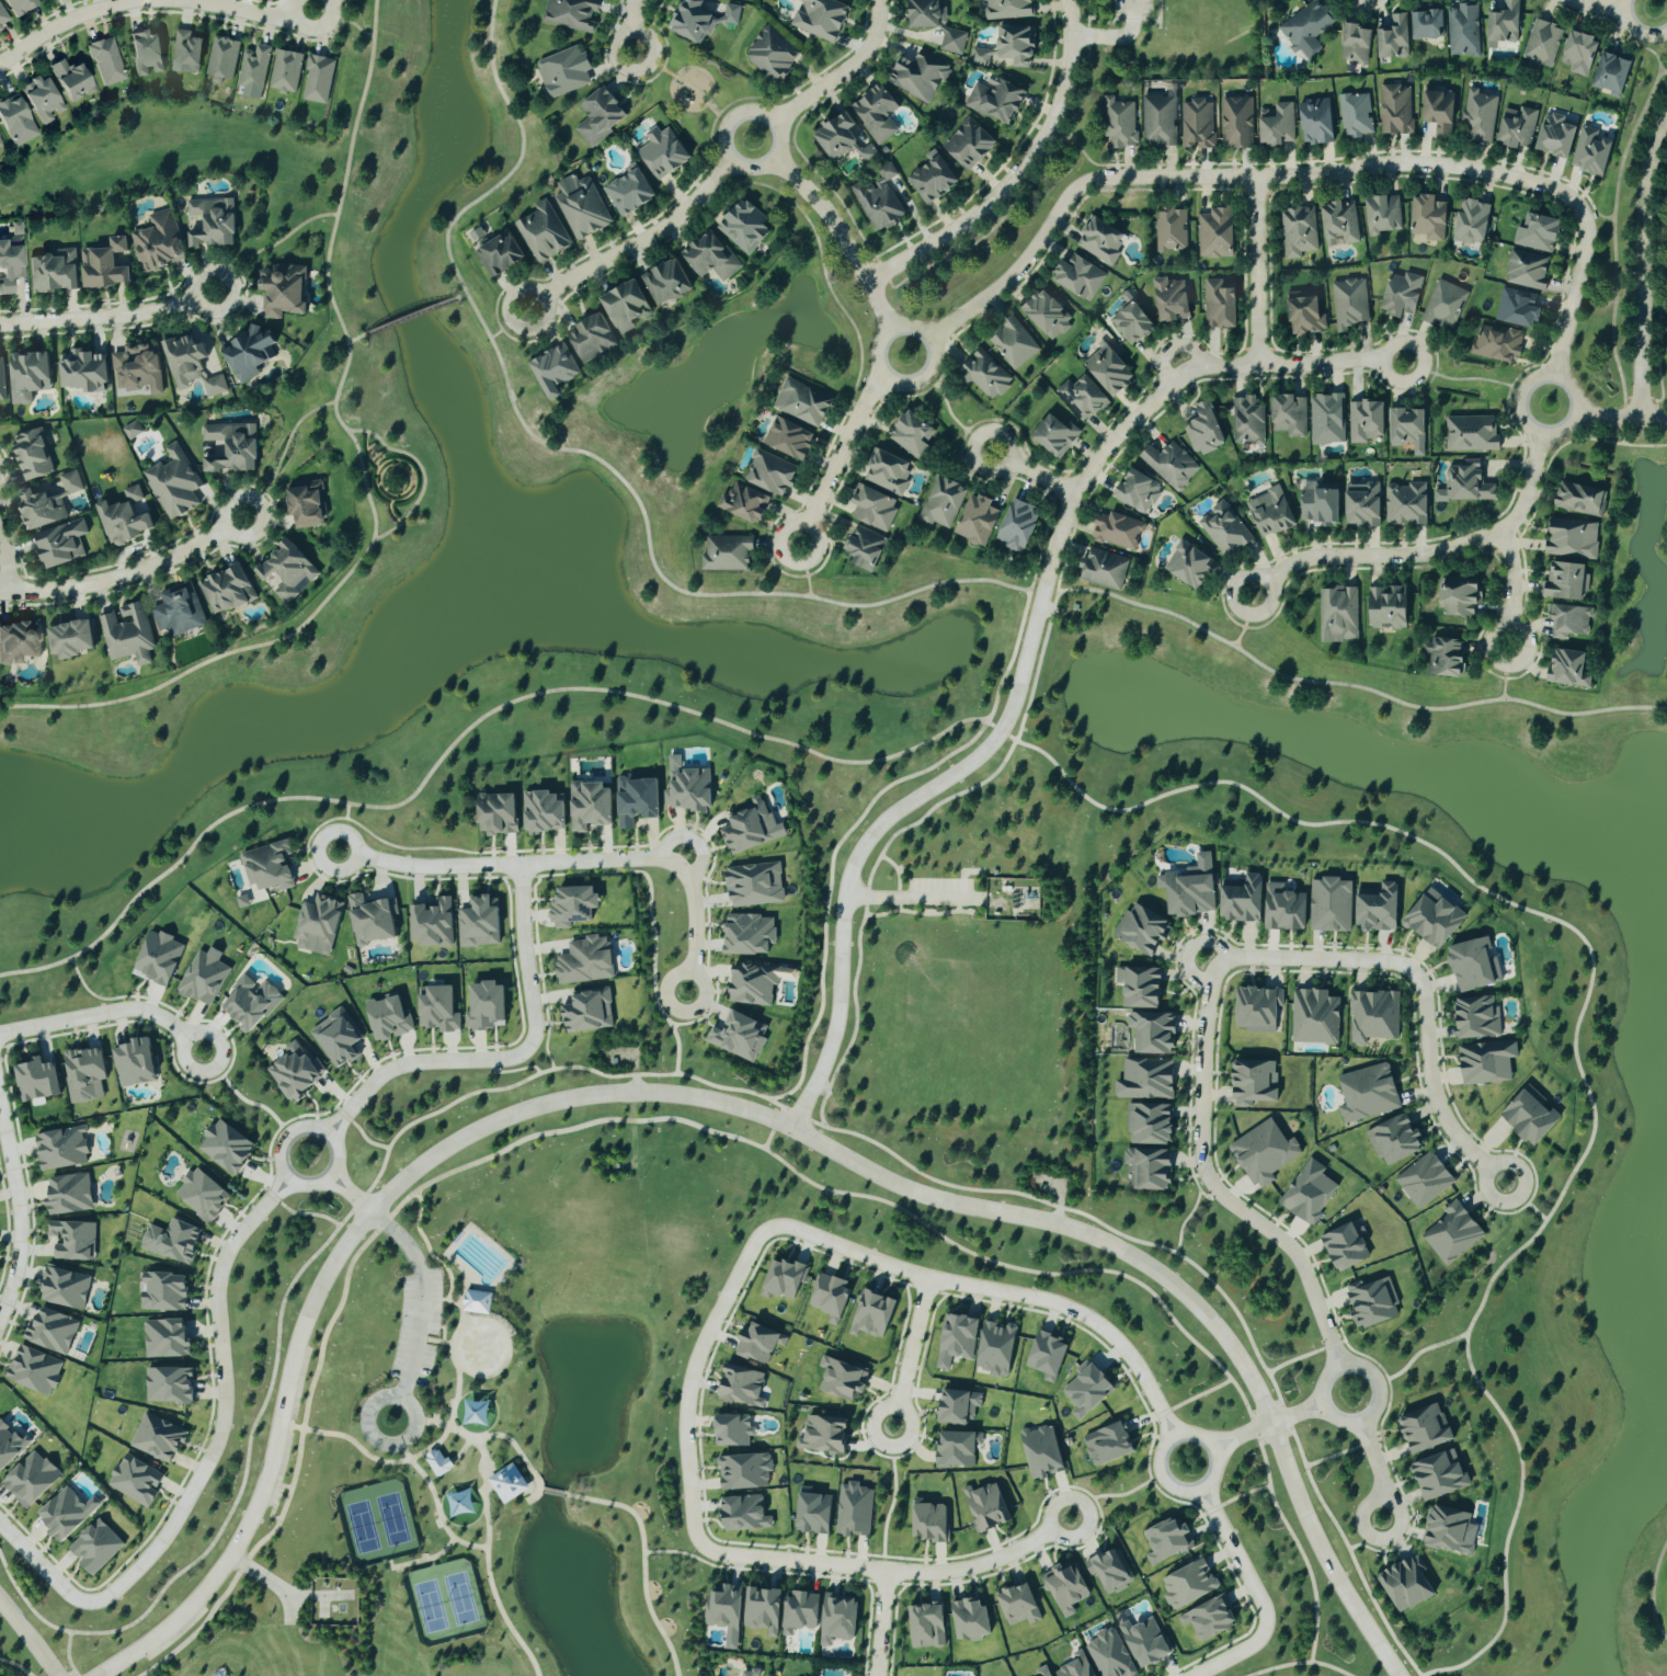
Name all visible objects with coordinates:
road: (149, 0)
building: (19, 7)
road: (1597, 7)
building: (1008, 9)
parking lot: (1132, 9)
building: (572, 13)
building: (926, 13)
road: (1158, 13)
building: (821, 18)
road: (1122, 18)
building: (2, 19)
road: (344, 19)
building: (701, 19)
building: (1428, 24)
building: (1505, 24)
road: (635, 25)
building: (1308, 28)
building: (1463, 30)
road: (1635, 30)
road: (1117, 36)
building: (1395, 37)
building: (954, 41)
park: (1168, 41)
building: (1356, 42)
building: (1543, 42)
building: (1018, 44)
building: (186, 52)
building: (146, 53)
building: (1580, 53)
building: (773, 54)
building: (980, 56)
building: (221, 58)
building: (106, 61)
building: (253, 68)
building: (285, 71)
building: (564, 71)
road: (844, 71)
building: (1613, 73)
building: (920, 76)
building: (318, 79)
building: (71, 80)
road: (683, 83)
building: (43, 100)
building: (996, 100)
building: (1395, 110)
building: (1440, 112)
building: (877, 113)
building: (1355, 114)
building: (600, 116)
building: (1478, 116)
building: (15, 121)
building: (1160, 121)
building: (1317, 122)
building: (1121, 123)
building: (1236, 123)
building: (1198, 124)
building: (1277, 124)
building: (1518, 127)
building: (840, 136)
building: (1557, 136)
building: (969, 144)
building: (663, 152)
building: (867, 152)
building: (1591, 152)
road: (517, 160)
road: (731, 161)
road: (1091, 161)
road: (1128, 161)
road: (344, 171)
road: (1020, 173)
road: (1312, 175)
building: (932, 178)
road: (1032, 181)
building: (630, 191)
building: (879, 199)
building: (582, 206)
road: (829, 213)
building: (1383, 214)
building: (1429, 217)
building: (213, 221)
building: (1340, 221)
building: (1473, 221)
building: (745, 228)
building: (1171, 230)
building: (544, 231)
building: (1299, 231)
building: (1539, 232)
building: (1215, 233)
building: (1100, 240)
building: (158, 242)
road: (638, 244)
building: (500, 253)
building: (710, 256)
building: (11, 261)
building: (105, 265)
road: (1644, 269)
building: (54, 271)
road: (1258, 271)
building: (1527, 271)
building: (1080, 276)
building: (666, 282)
building: (283, 290)
building: (1403, 294)
road: (461, 296)
building: (1172, 299)
building: (1349, 304)
road: (880, 305)
building: (1445, 305)
building: (626, 306)
building: (1220, 306)
building: (1519, 309)
building: (1047, 313)
building: (1306, 316)
road: (410, 317)
road: (110, 319)
road: (510, 323)
building: (1131, 323)
road: (355, 338)
building: (592, 338)
building: (1013, 343)
building: (1497, 343)
building: (249, 353)
building: (192, 365)
building: (138, 369)
building: (1109, 369)
building: (555, 370)
building: (84, 372)
building: (28, 376)
road: (886, 376)
building: (985, 376)
road: (1463, 377)
building: (1, 381)
building: (1082, 397)
building: (802, 402)
building: (1289, 415)
road: (952, 419)
road: (1609, 419)
building: (1327, 420)
road: (1655, 420)
building: (1247, 421)
building: (1367, 421)
road: (1528, 425)
building: (132, 430)
building: (1203, 430)
building: (1409, 430)
building: (1472, 434)
building: (913, 435)
building: (1054, 435)
building: (789, 438)
building: (228, 448)
road: (282, 449)
building: (33, 455)
road: (841, 459)
building: (1171, 466)
building: (889, 471)
building: (770, 474)
road: (1034, 474)
building: (176, 481)
park: (387, 481)
building: (1466, 484)
building: (1138, 492)
building: (50, 499)
building: (1580, 499)
building: (744, 502)
building: (943, 503)
building: (1320, 504)
building: (1406, 504)
building: (874, 508)
building: (306, 510)
building: (1270, 513)
building: (124, 517)
building: (978, 521)
building: (1019, 526)
building: (1224, 529)
building: (1118, 532)
building: (1573, 538)
building: (61, 544)
building: (866, 548)
building: (727, 554)
road: (1427, 555)
building: (1189, 566)
road: (9, 567)
building: (1104, 569)
building: (285, 572)
road: (128, 577)
road: (989, 581)
building: (1567, 581)
road: (1515, 589)
building: (228, 591)
building: (1460, 596)
building: (1390, 607)
building: (178, 612)
building: (1338, 614)
building: (1569, 620)
road: (1244, 622)
road: (301, 623)
building: (127, 634)
building: (71, 639)
building: (19, 642)
road: (1026, 654)
building: (1445, 658)
building: (1568, 669)
road: (1504, 673)
building: (689, 790)
building: (638, 800)
building: (590, 806)
building: (544, 812)
building: (498, 814)
building: (752, 828)
road: (894, 832)
road: (572, 859)
building: (271, 867)
road: (897, 877)
building: (755, 886)
building: (1191, 889)
road: (922, 897)
building: (1243, 900)
building: (242, 901)
road: (956, 903)
building: (1332, 905)
building: (573, 907)
building: (1286, 909)
building: (1379, 909)
road: (916, 912)
building: (1435, 919)
building: (372, 921)
building: (433, 924)
building: (479, 924)
building: (318, 926)
building: (1142, 930)
building: (750, 935)
road: (1190, 947)
building: (159, 959)
building: (586, 961)
building: (1473, 966)
building: (204, 978)
building: (754, 984)
building: (1140, 988)
park: (980, 995)
road: (1423, 995)
building: (251, 1003)
building: (486, 1006)
building: (437, 1010)
road: (105, 1011)
building: (589, 1011)
building: (1258, 1011)
building: (1373, 1016)
building: (1315, 1017)
building: (388, 1018)
building: (1477, 1018)
park: (963, 1021)
road: (1574, 1028)
building: (1153, 1034)
building: (739, 1037)
building: (336, 1038)
road: (507, 1058)
building: (1487, 1062)
building: (135, 1063)
building: (296, 1072)
building: (84, 1075)
road: (527, 1078)
building: (1146, 1080)
building: (37, 1081)
building: (1255, 1083)
building: (1369, 1094)
road: (240, 1095)
road: (721, 1102)
building: (1530, 1117)
building: (1150, 1125)
road: (316, 1126)
road: (773, 1126)
road: (715, 1130)
road: (362, 1136)
building: (1395, 1141)
building: (226, 1147)
building: (61, 1149)
building: (1265, 1153)
building: (1148, 1170)
building: (1425, 1179)
road: (1210, 1184)
road: (350, 1190)
building: (1309, 1193)
building: (69, 1195)
building: (202, 1196)
road: (1525, 1200)
road: (1059, 1202)
road: (20, 1209)
road: (1189, 1211)
road: (305, 1212)
building: (1453, 1232)
building: (73, 1239)
building: (172, 1240)
building: (1347, 1245)
building: (784, 1278)
building: (65, 1287)
building: (163, 1291)
road: (422, 1293)
building: (831, 1296)
building: (477, 1301)
building: (1372, 1302)
building: (874, 1313)
road: (438, 1324)
road: (710, 1330)
building: (52, 1331)
building: (165, 1337)
road: (435, 1338)
building: (957, 1338)
building: (760, 1342)
building: (996, 1348)
road: (1418, 1350)
road: (911, 1352)
building: (1048, 1355)
road: (1298, 1356)
building: (34, 1369)
building: (844, 1378)
building: (169, 1384)
building: (742, 1386)
road: (457, 1388)
building: (1087, 1389)
road: (1379, 1393)
road: (381, 1395)
road: (1196, 1395)
building: (958, 1405)
park: (500, 1416)
road: (1267, 1423)
building: (1426, 1427)
building: (732, 1429)
road: (469, 1434)
building: (825, 1434)
road: (1194, 1434)
building: (158, 1438)
building: (10, 1443)
building: (1108, 1444)
road: (463, 1447)
building: (958, 1449)
building: (1042, 1450)
road: (1336, 1452)
road: (522, 1453)
road: (207, 1460)
road: (1375, 1468)
building: (744, 1471)
building: (1440, 1474)
building: (31, 1479)
building: (135, 1480)
road: (540, 1486)
road: (552, 1490)
road: (1241, 1493)
road: (437, 1503)
building: (986, 1507)
building: (854, 1509)
building: (67, 1513)
building: (745, 1513)
building: (814, 1513)
park: (378, 1520)
building: (930, 1521)
building: (1449, 1528)
building: (1167, 1540)
building: (95, 1547)
road: (1349, 1548)
road: (692, 1553)
road: (423, 1558)
road: (434, 1559)
road: (644, 1559)
road: (737, 1569)
building: (1110, 1570)
road: (491, 1582)
building: (1188, 1584)
building: (1407, 1584)
building: (1065, 1587)
road: (285, 1591)
road: (1653, 1592)
road: (1259, 1595)
park: (445, 1600)
road: (323, 1605)
building: (1018, 1605)
road: (289, 1609)
building: (726, 1609)
building: (764, 1609)
building: (801, 1611)
building: (1210, 1617)
building: (840, 1618)
building: (971, 1619)
road: (879, 1622)
building: (928, 1626)
road: (27, 1638)
building: (1145, 1642)
road: (68, 1650)
building: (1109, 1655)
road: (1301, 1661)
road: (18, 1664)
building: (1076, 1666)
road: (71, 1669)
building: (1043, 1671)
building: (751, 1673)
building: (219, 1674)

